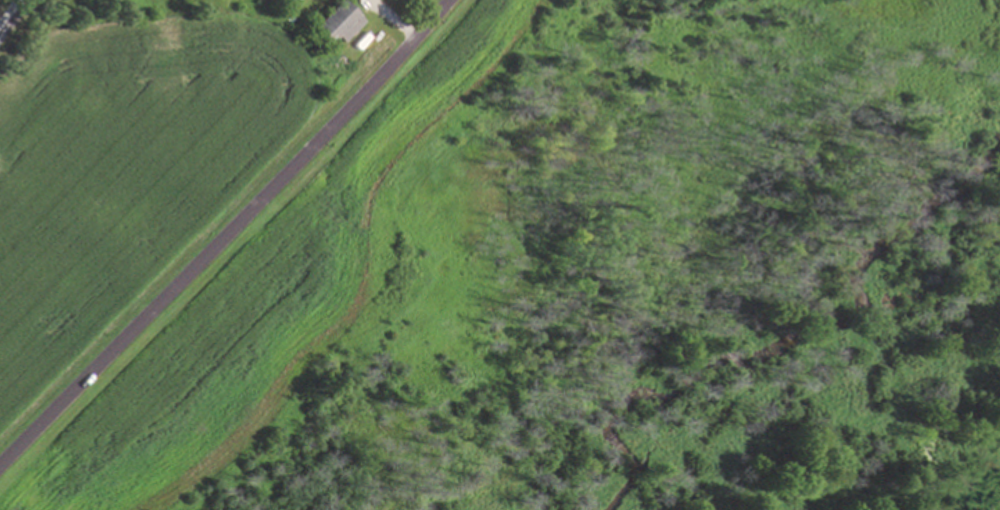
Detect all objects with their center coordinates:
road: (12, 17)
building: (336, 25)
road: (227, 235)
river: (784, 344)

